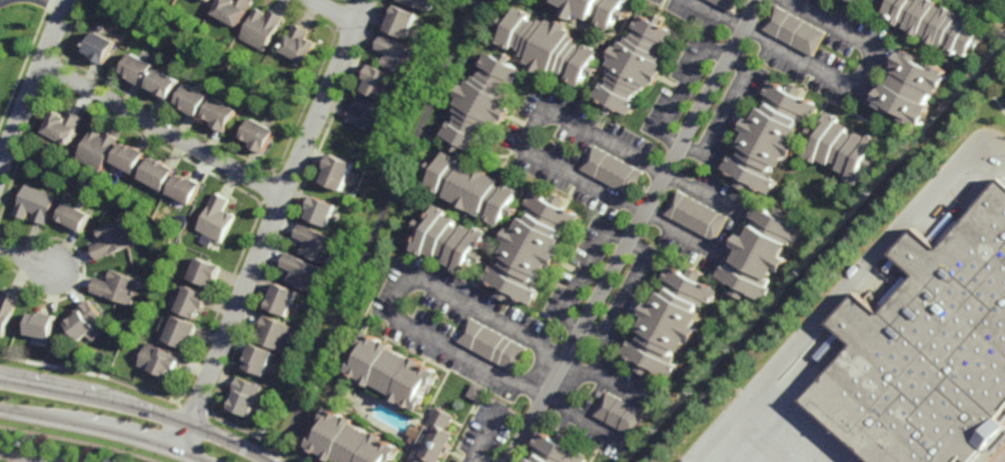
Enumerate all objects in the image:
building: (206, 1)
building: (858, 2)
building: (417, 3)
road: (54, 4)
building: (725, 4)
building: (594, 10)
building: (230, 11)
road: (333, 12)
building: (400, 22)
building: (935, 24)
building: (260, 29)
building: (793, 31)
building: (297, 45)
building: (546, 46)
building: (101, 48)
building: (396, 55)
road: (721, 55)
building: (632, 64)
building: (139, 70)
building: (375, 82)
road: (837, 82)
road: (34, 84)
building: (166, 86)
building: (911, 87)
building: (193, 100)
building: (480, 103)
building: (220, 115)
building: (368, 115)
building: (63, 128)
road: (163, 131)
building: (258, 136)
building: (769, 138)
road: (997, 145)
building: (842, 149)
building: (98, 150)
building: (131, 159)
road: (639, 160)
building: (611, 170)
building: (159, 174)
building: (337, 174)
building: (185, 188)
building: (472, 188)
road: (600, 189)
building: (35, 204)
building: (319, 211)
building: (75, 215)
building: (696, 215)
building: (216, 218)
road: (272, 225)
road: (375, 231)
road: (635, 231)
building: (113, 236)
building: (448, 241)
building: (315, 243)
building: (532, 245)
building: (761, 252)
road: (26, 258)
building: (205, 270)
building: (301, 272)
building: (117, 286)
road: (429, 286)
road: (835, 297)
building: (281, 298)
building: (193, 300)
building: (7, 309)
building: (87, 320)
building: (669, 322)
building: (42, 323)
building: (181, 330)
building: (273, 333)
road: (601, 340)
building: (492, 344)
building: (926, 350)
building: (256, 358)
building: (159, 360)
building: (394, 370)
building: (340, 392)
building: (477, 392)
building: (242, 396)
road: (139, 407)
building: (621, 414)
road: (586, 419)
road: (102, 429)
road: (484, 435)
building: (433, 438)
building: (350, 441)
building: (559, 449)
road: (21, 457)
road: (481, 458)
road: (1001, 458)
building: (867, 461)

